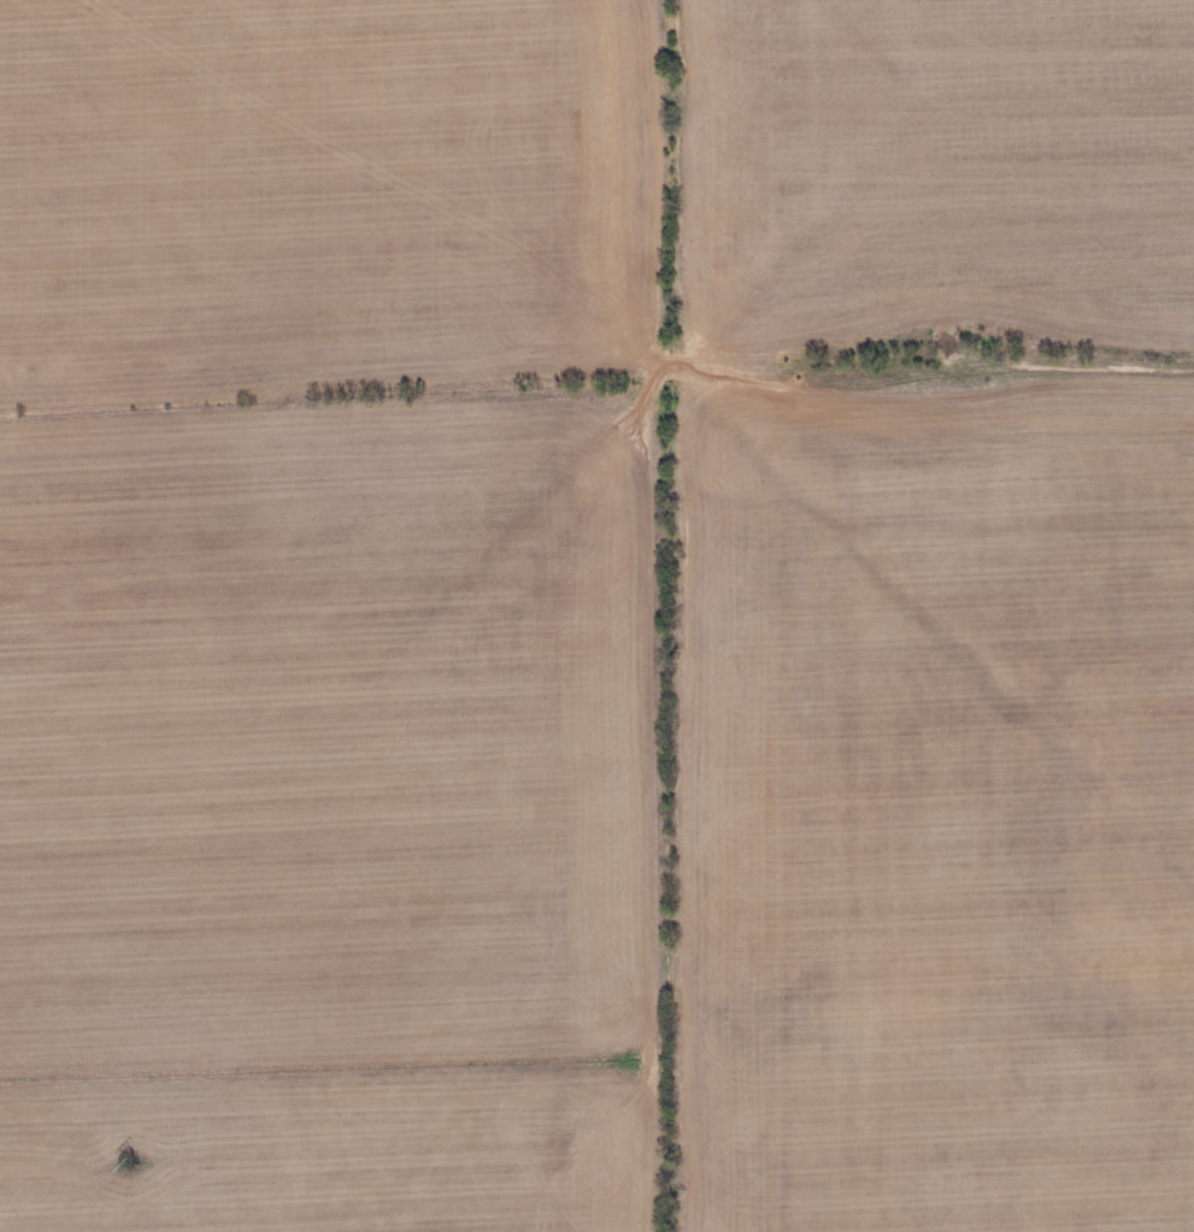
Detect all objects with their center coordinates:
power tower: (124, 1168)

